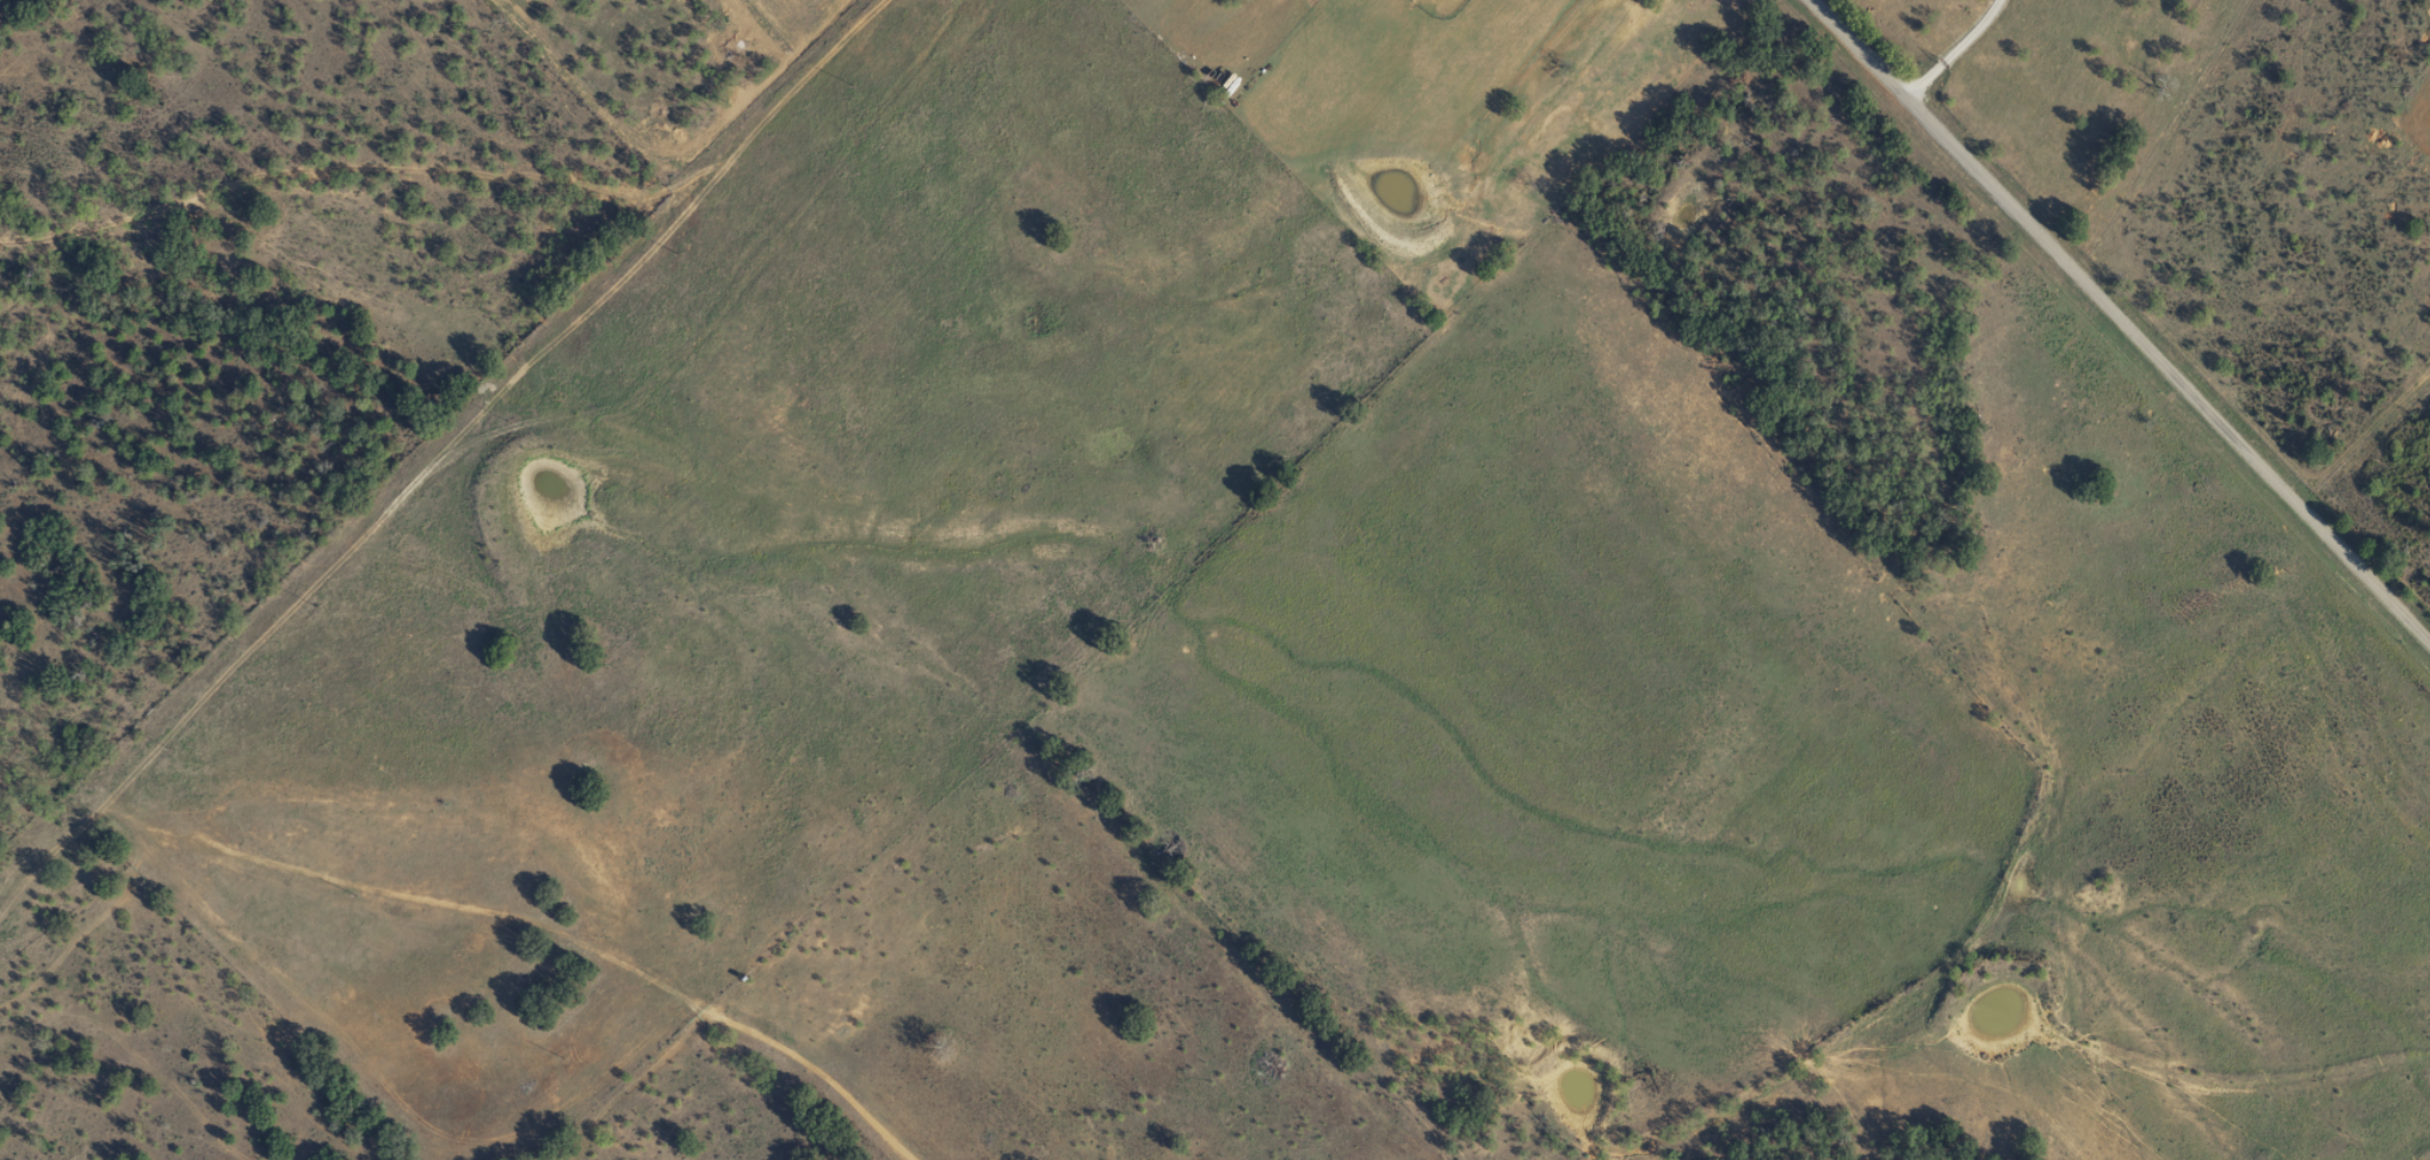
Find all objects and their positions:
road: (2096, 323)
road: (432, 429)
road: (2098, 626)

